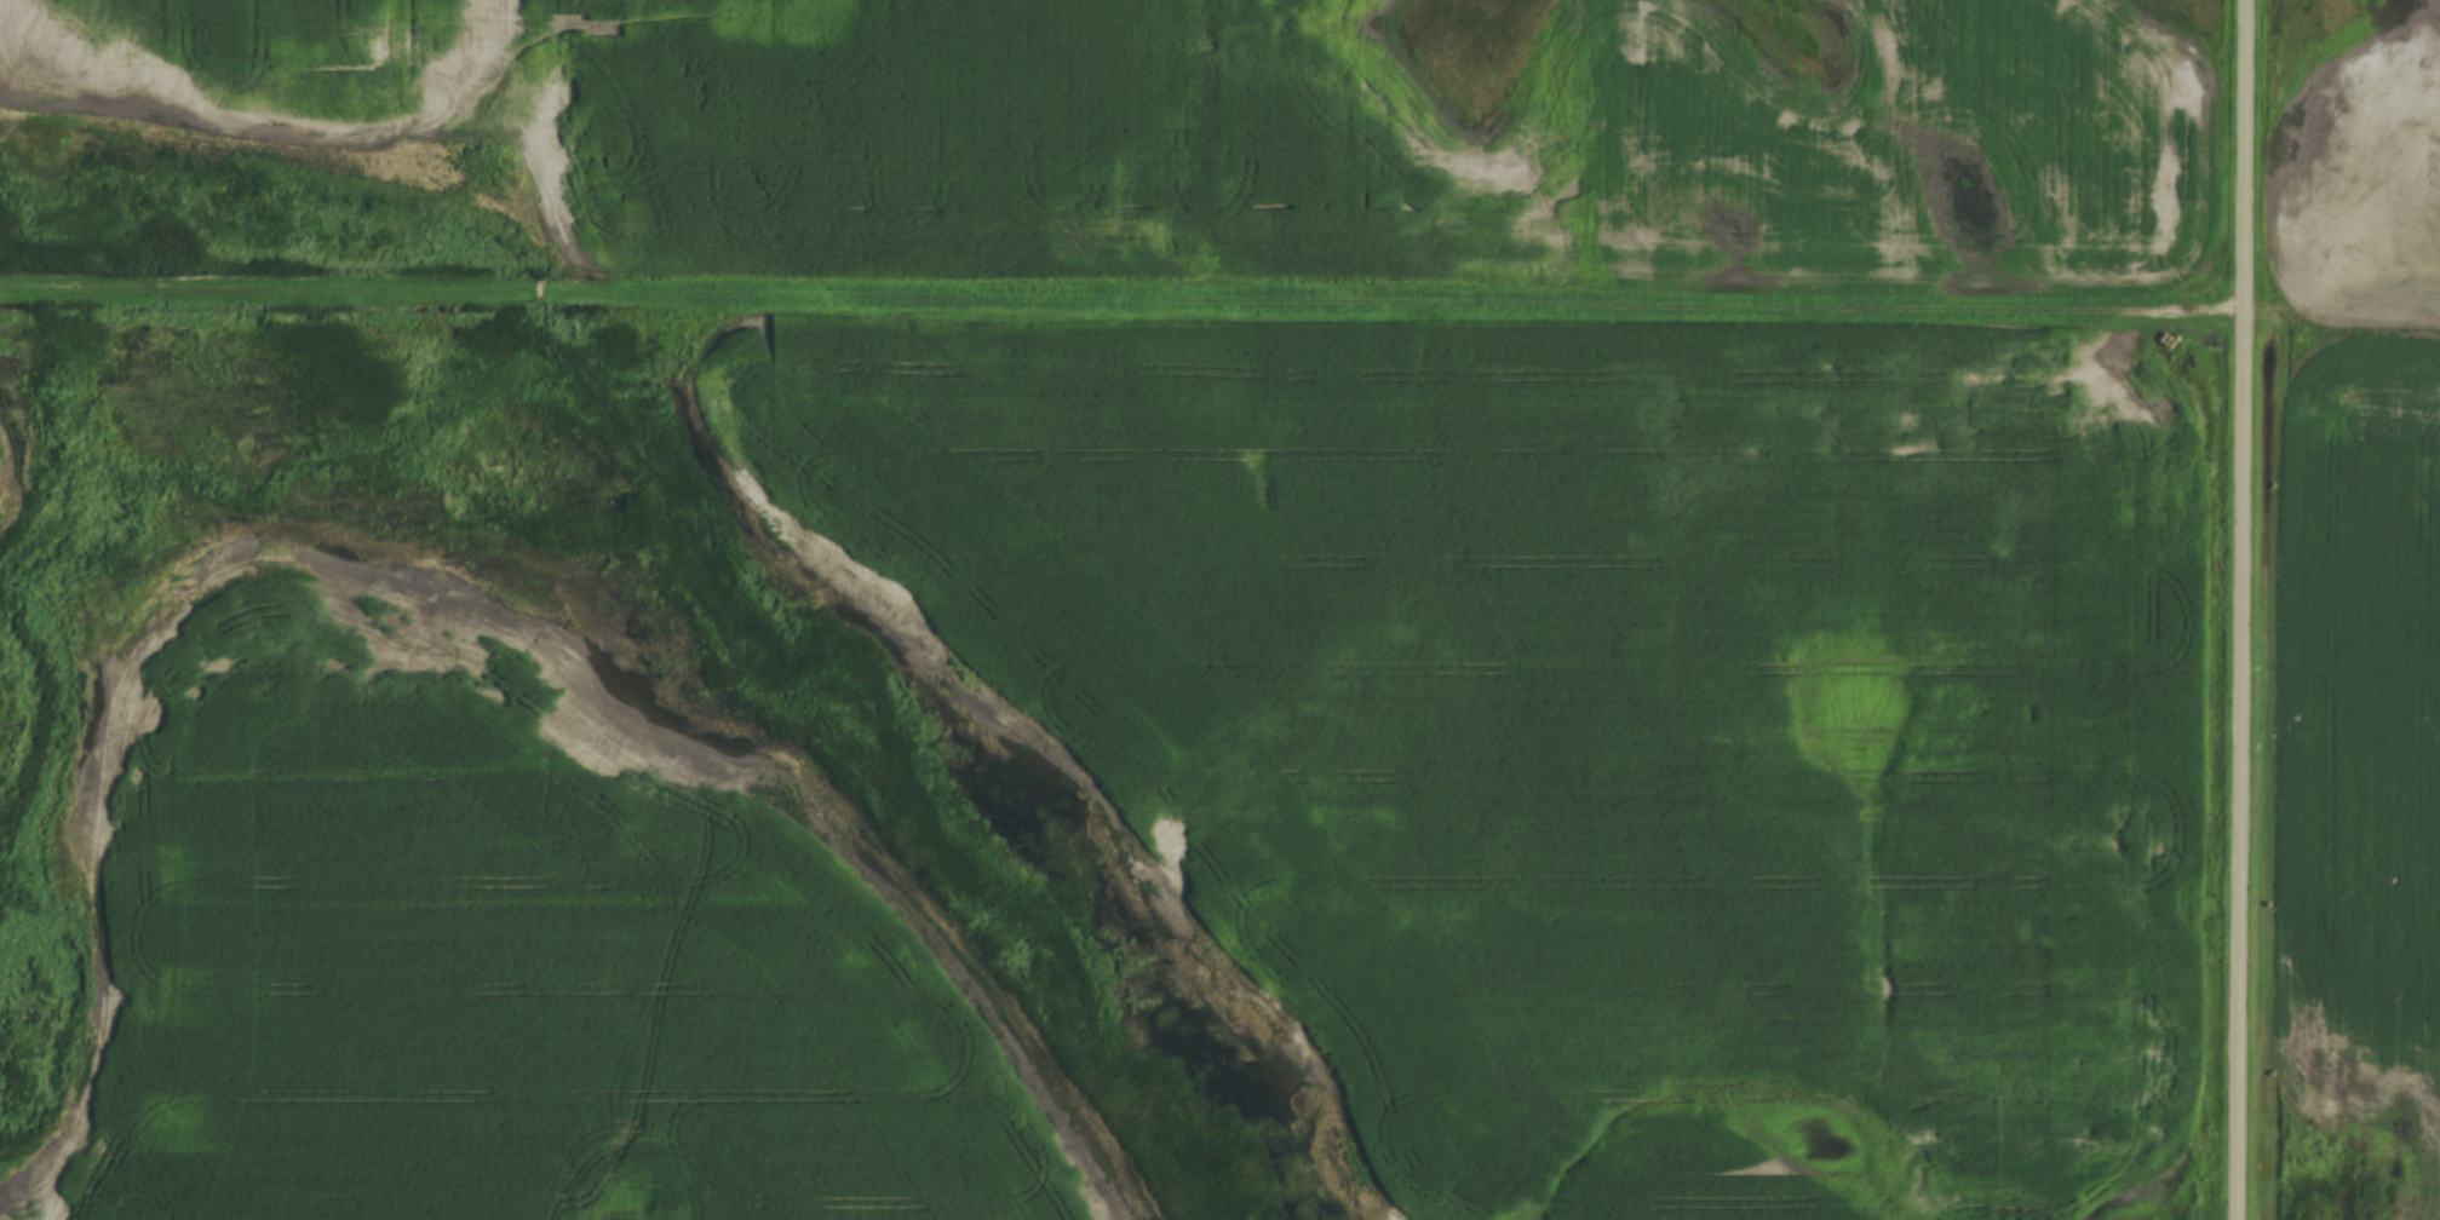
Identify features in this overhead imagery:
road: (2241, 610)

